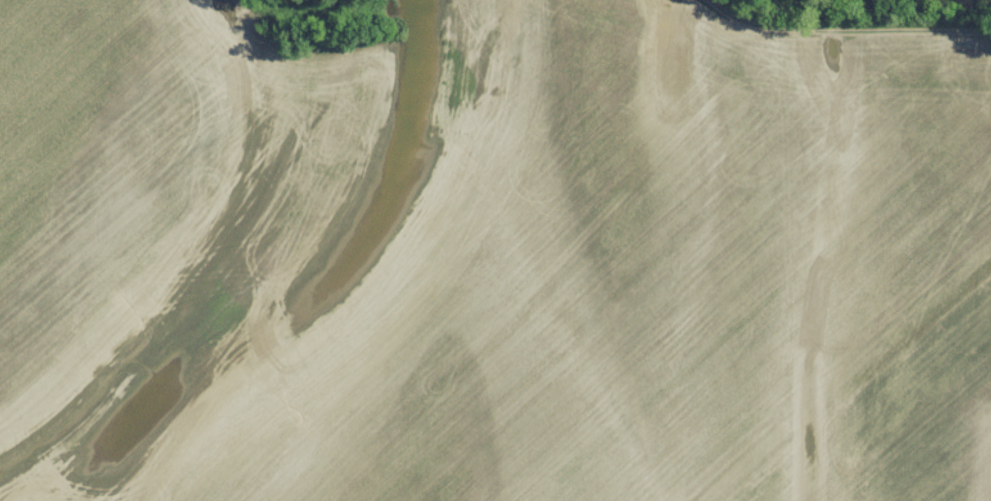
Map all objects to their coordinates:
road: (843, 35)

